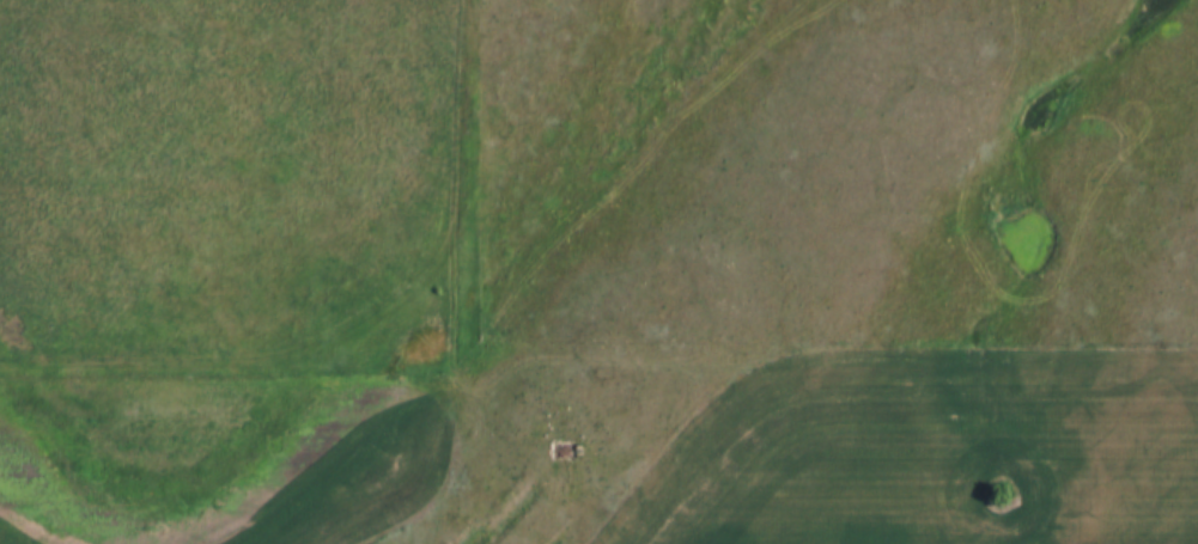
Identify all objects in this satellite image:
road: (357, 323)

